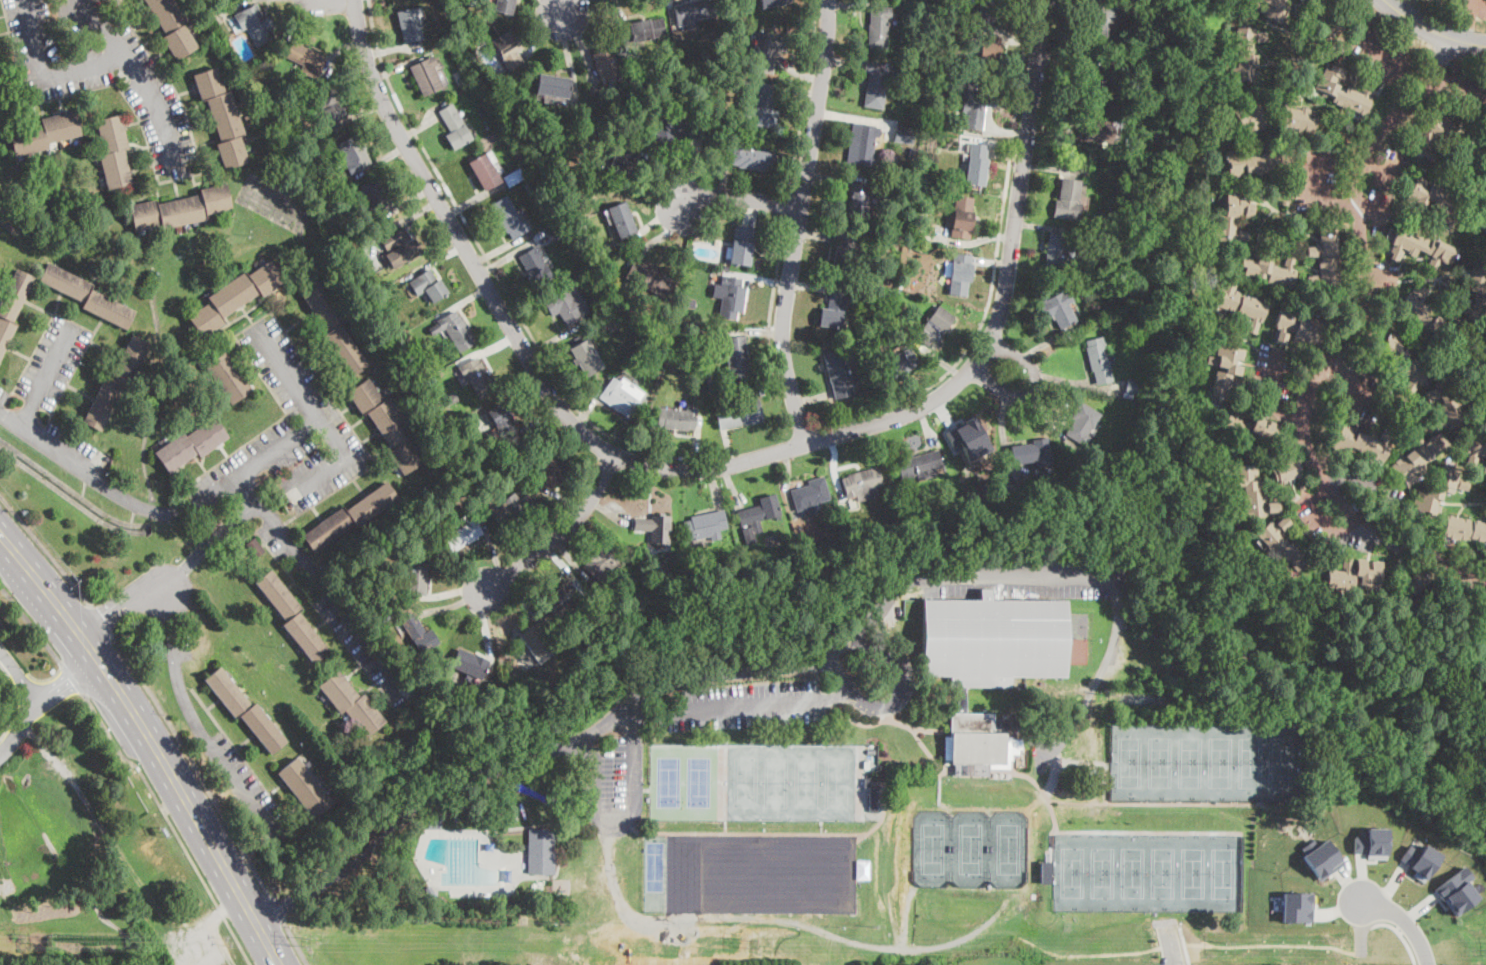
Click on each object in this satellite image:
building: (1300, 0)
building: (772, 3)
building: (186, 4)
road: (567, 5)
building: (504, 6)
building: (213, 8)
building: (1272, 8)
building: (691, 11)
building: (989, 11)
building: (1326, 18)
building: (1097, 19)
building: (943, 20)
road: (1466, 20)
building: (191, 24)
building: (256, 24)
building: (173, 26)
building: (409, 26)
building: (878, 27)
building: (645, 30)
road: (1432, 30)
building: (201, 39)
building: (1139, 49)
building: (769, 50)
building: (510, 51)
building: (1246, 53)
building: (990, 54)
building: (921, 56)
road: (1391, 58)
building: (305, 59)
building: (606, 63)
road: (138, 72)
building: (426, 76)
road: (47, 79)
building: (1095, 80)
road: (1459, 81)
building: (877, 83)
building: (1137, 85)
building: (232, 86)
building: (554, 86)
building: (260, 91)
building: (1330, 91)
building: (241, 96)
road: (806, 96)
building: (297, 98)
building: (242, 101)
building: (330, 104)
building: (976, 105)
building: (761, 107)
building: (513, 110)
building: (1295, 115)
building: (1251, 117)
building: (223, 118)
building: (247, 118)
building: (250, 124)
building: (454, 127)
building: (676, 129)
building: (44, 133)
building: (904, 133)
building: (1099, 133)
building: (494, 136)
building: (1432, 136)
building: (248, 138)
building: (1128, 142)
building: (1485, 142)
building: (862, 144)
building: (1069, 145)
building: (114, 151)
building: (253, 153)
building: (354, 153)
building: (914, 153)
building: (623, 157)
building: (752, 159)
building: (1132, 163)
building: (976, 164)
building: (1254, 164)
building: (1092, 165)
building: (484, 171)
building: (514, 176)
building: (918, 177)
building: (531, 186)
building: (1479, 187)
building: (1118, 190)
building: (378, 196)
road: (1316, 197)
building: (1485, 198)
road: (741, 199)
building: (1068, 200)
building: (858, 201)
building: (1432, 201)
road: (789, 205)
building: (1484, 207)
building: (181, 209)
building: (510, 218)
building: (961, 218)
building: (623, 220)
building: (714, 220)
road: (798, 221)
building: (1231, 222)
building: (1481, 223)
building: (899, 228)
building: (557, 234)
building: (742, 246)
building: (400, 247)
building: (727, 248)
building: (1420, 248)
building: (1060, 249)
building: (843, 254)
building: (1326, 262)
road: (995, 265)
building: (726, 266)
building: (535, 267)
road: (494, 269)
building: (1271, 270)
building: (1400, 273)
building: (960, 275)
building: (1106, 275)
building: (648, 277)
building: (585, 278)
building: (368, 282)
building: (1066, 283)
building: (428, 285)
building: (1104, 287)
building: (1475, 294)
building: (87, 295)
building: (234, 297)
building: (732, 297)
road: (772, 297)
building: (1240, 304)
building: (12, 305)
building: (566, 306)
building: (834, 308)
building: (1059, 308)
building: (385, 314)
building: (1426, 317)
building: (1081, 323)
building: (935, 325)
building: (691, 327)
building: (333, 328)
building: (1298, 328)
building: (454, 330)
building: (640, 339)
road: (1336, 347)
building: (733, 354)
building: (586, 358)
building: (1099, 360)
parking lot: (51, 362)
building: (1403, 362)
building: (898, 364)
building: (1233, 372)
building: (840, 373)
road: (1286, 375)
building: (228, 377)
road: (1353, 377)
road: (45, 378)
building: (477, 378)
building: (117, 382)
building: (711, 383)
road: (1032, 385)
building: (1134, 386)
building: (761, 390)
parking lot: (2, 395)
building: (451, 397)
building: (622, 397)
building: (1138, 399)
building: (1447, 403)
building: (834, 409)
building: (739, 414)
building: (678, 418)
building: (502, 421)
road: (326, 422)
building: (1083, 424)
building: (388, 426)
building: (1251, 429)
parking lot: (287, 432)
building: (975, 437)
building: (1363, 442)
building: (191, 445)
road: (48, 448)
building: (1476, 449)
parking lot: (71, 451)
building: (1032, 453)
building: (1417, 459)
road: (264, 460)
building: (1095, 463)
road: (726, 465)
building: (918, 465)
building: (1286, 469)
building: (552, 470)
building: (497, 472)
building: (862, 484)
building: (1249, 490)
building: (1439, 492)
building: (811, 495)
building: (961, 497)
building: (509, 506)
road: (149, 508)
building: (759, 513)
building: (349, 517)
building: (705, 526)
building: (655, 528)
building: (1463, 529)
road: (562, 534)
building: (462, 535)
building: (803, 542)
building: (1285, 544)
building: (255, 548)
road: (45, 550)
building: (644, 556)
building: (601, 563)
parking lot: (1019, 575)
building: (1369, 575)
road: (170, 576)
building: (1342, 577)
building: (415, 578)
road: (1018, 578)
road: (323, 586)
building: (1409, 592)
building: (563, 600)
parking lot: (338, 611)
building: (292, 616)
road: (101, 620)
parking lot: (0, 623)
road: (31, 624)
building: (1158, 633)
building: (418, 634)
building: (537, 640)
road: (176, 662)
building: (469, 663)
building: (989, 664)
road: (19, 675)
road: (71, 677)
building: (497, 696)
road: (39, 699)
road: (897, 701)
building: (352, 703)
parking lot: (743, 705)
road: (744, 706)
building: (245, 710)
road: (586, 734)
road: (149, 747)
park: (1203, 760)
road: (193, 764)
building: (755, 783)
building: (867, 783)
road: (241, 785)
parking lot: (245, 786)
parking lot: (613, 786)
building: (305, 788)
park: (116, 799)
building: (873, 800)
building: (435, 822)
road: (170, 823)
road: (629, 825)
building: (1371, 843)
building: (489, 846)
park: (970, 847)
park: (932, 848)
park: (1007, 848)
building: (541, 852)
building: (1320, 857)
building: (1419, 859)
building: (1039, 871)
building: (1045, 871)
park: (1146, 871)
park: (745, 872)
building: (508, 875)
parking lot: (0, 890)
building: (430, 890)
building: (1456, 891)
building: (451, 904)
building: (1297, 906)
road: (275, 909)
road: (1406, 922)
road: (1401, 935)
power tower: (305, 938)
power tower: (752, 942)
road: (295, 943)
power tower: (1229, 946)
road: (1189, 964)

